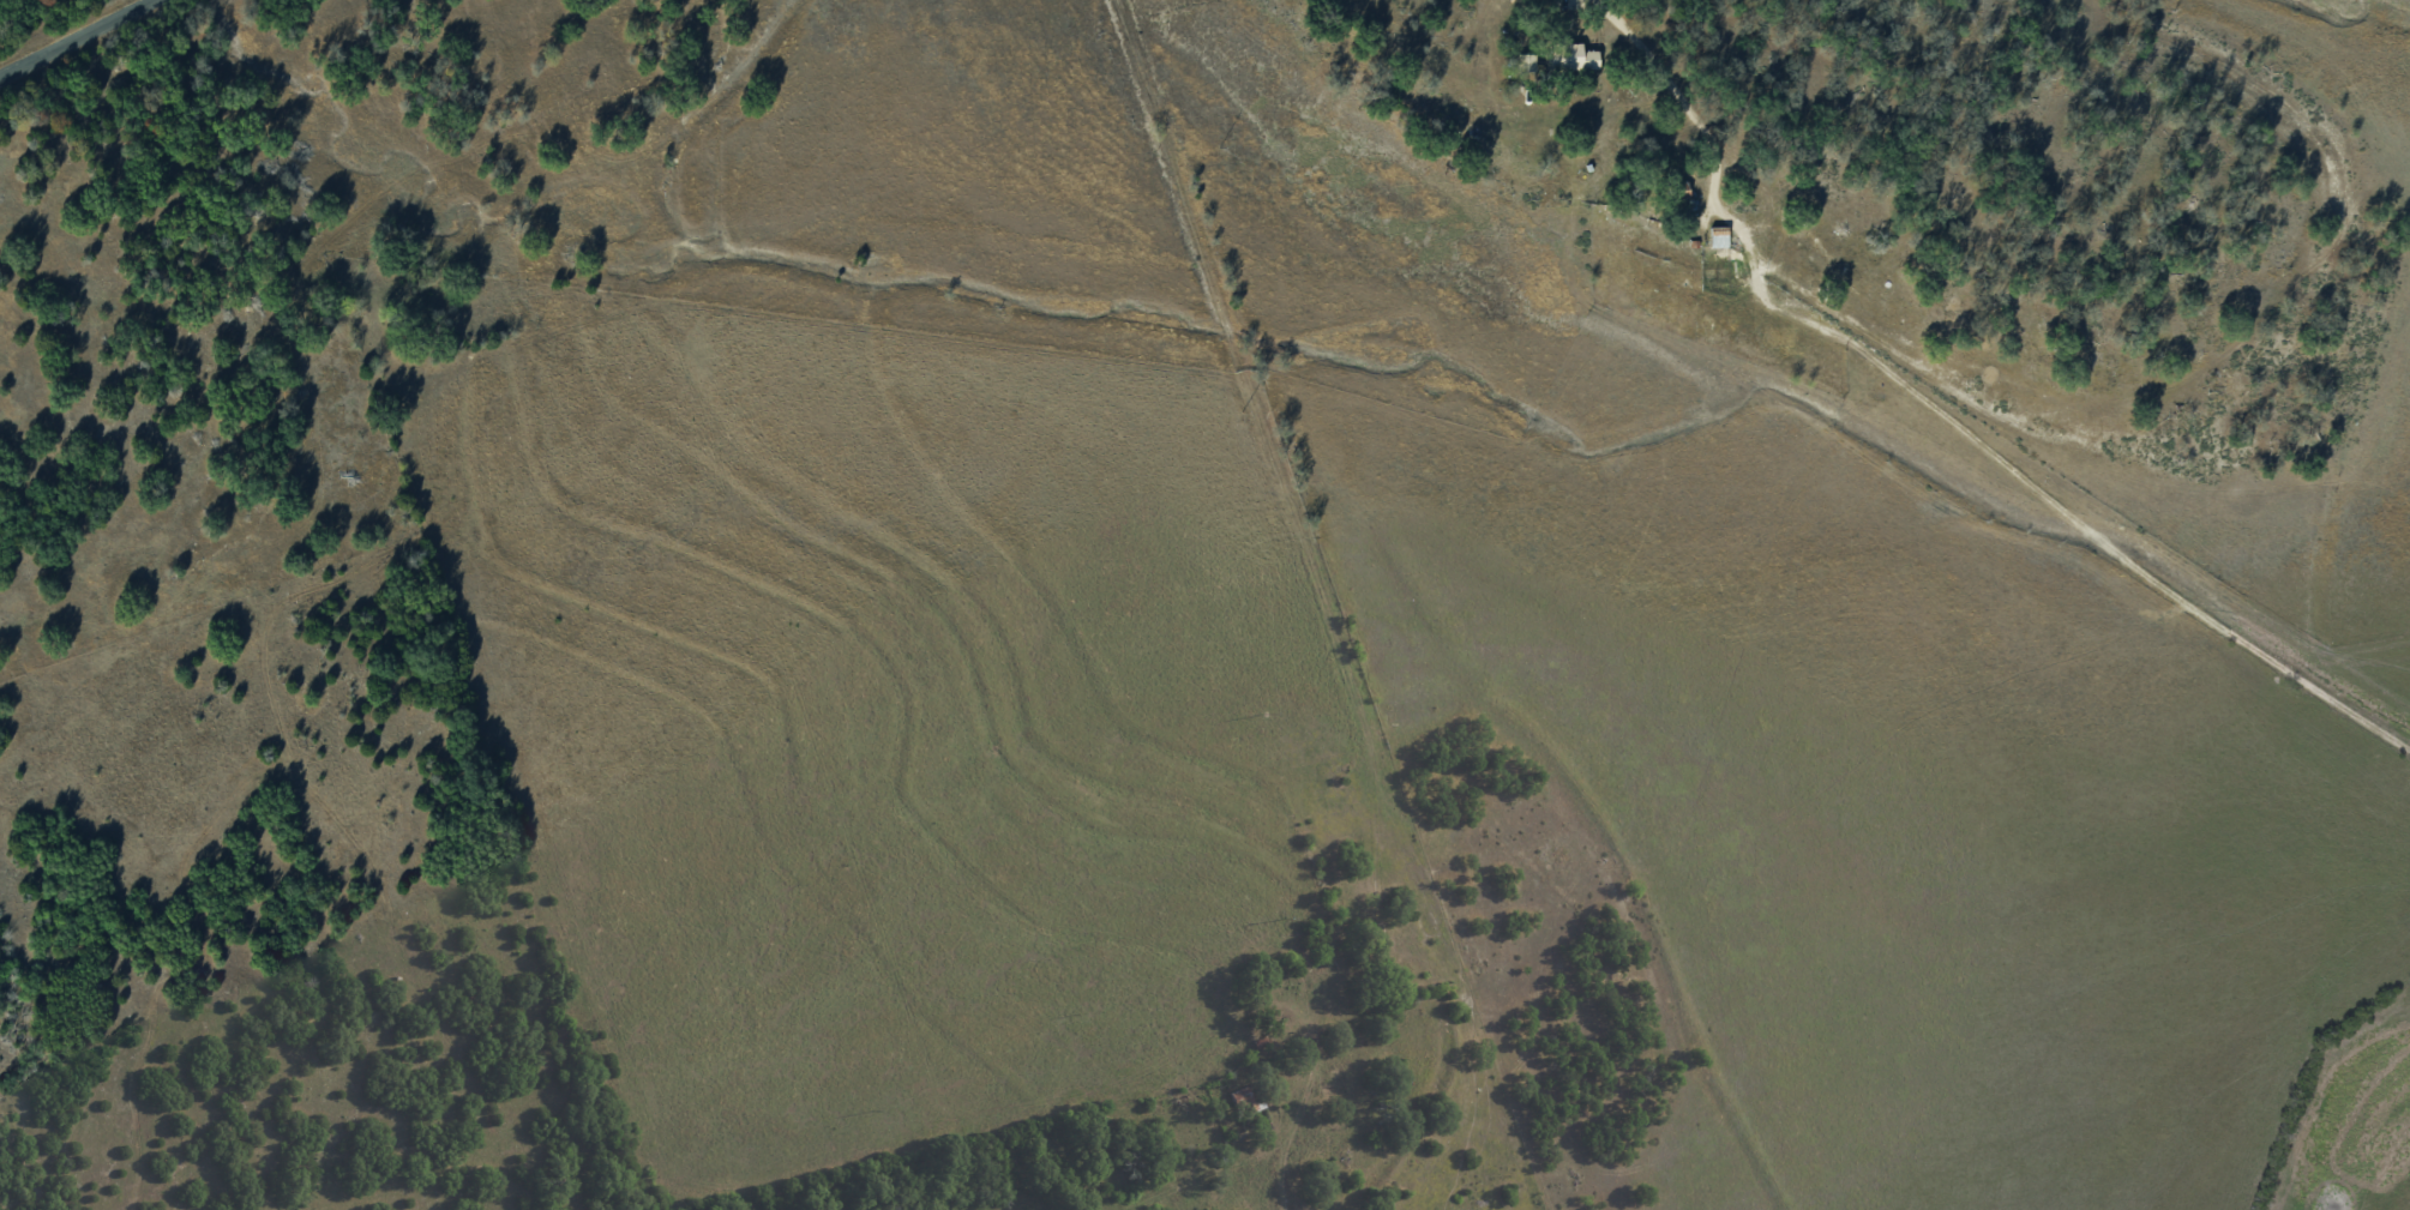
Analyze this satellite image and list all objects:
road: (79, 41)
building: (1577, 58)
building: (1527, 61)
road: (1670, 84)

